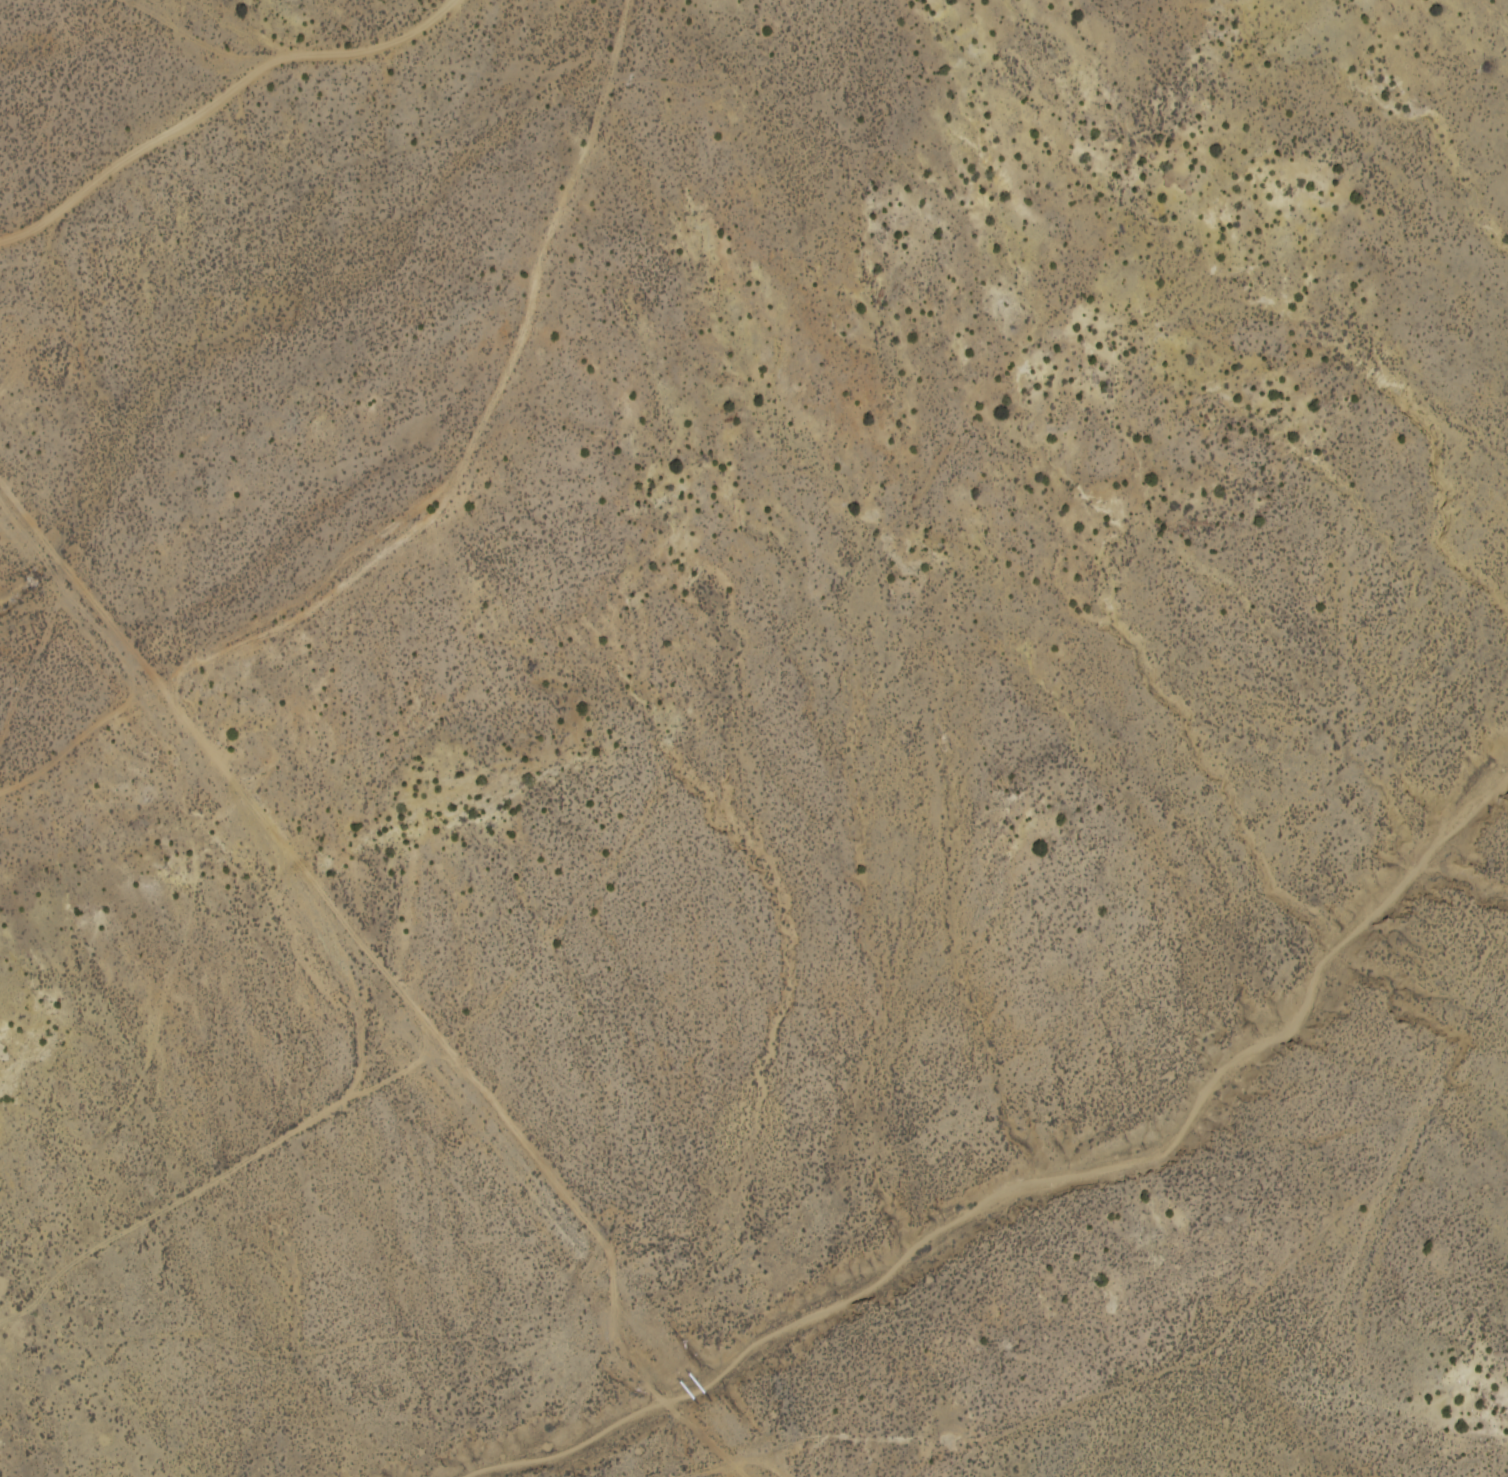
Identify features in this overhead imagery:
road: (193, 37)
road: (219, 101)
road: (253, 632)
road: (71, 731)
road: (388, 976)

